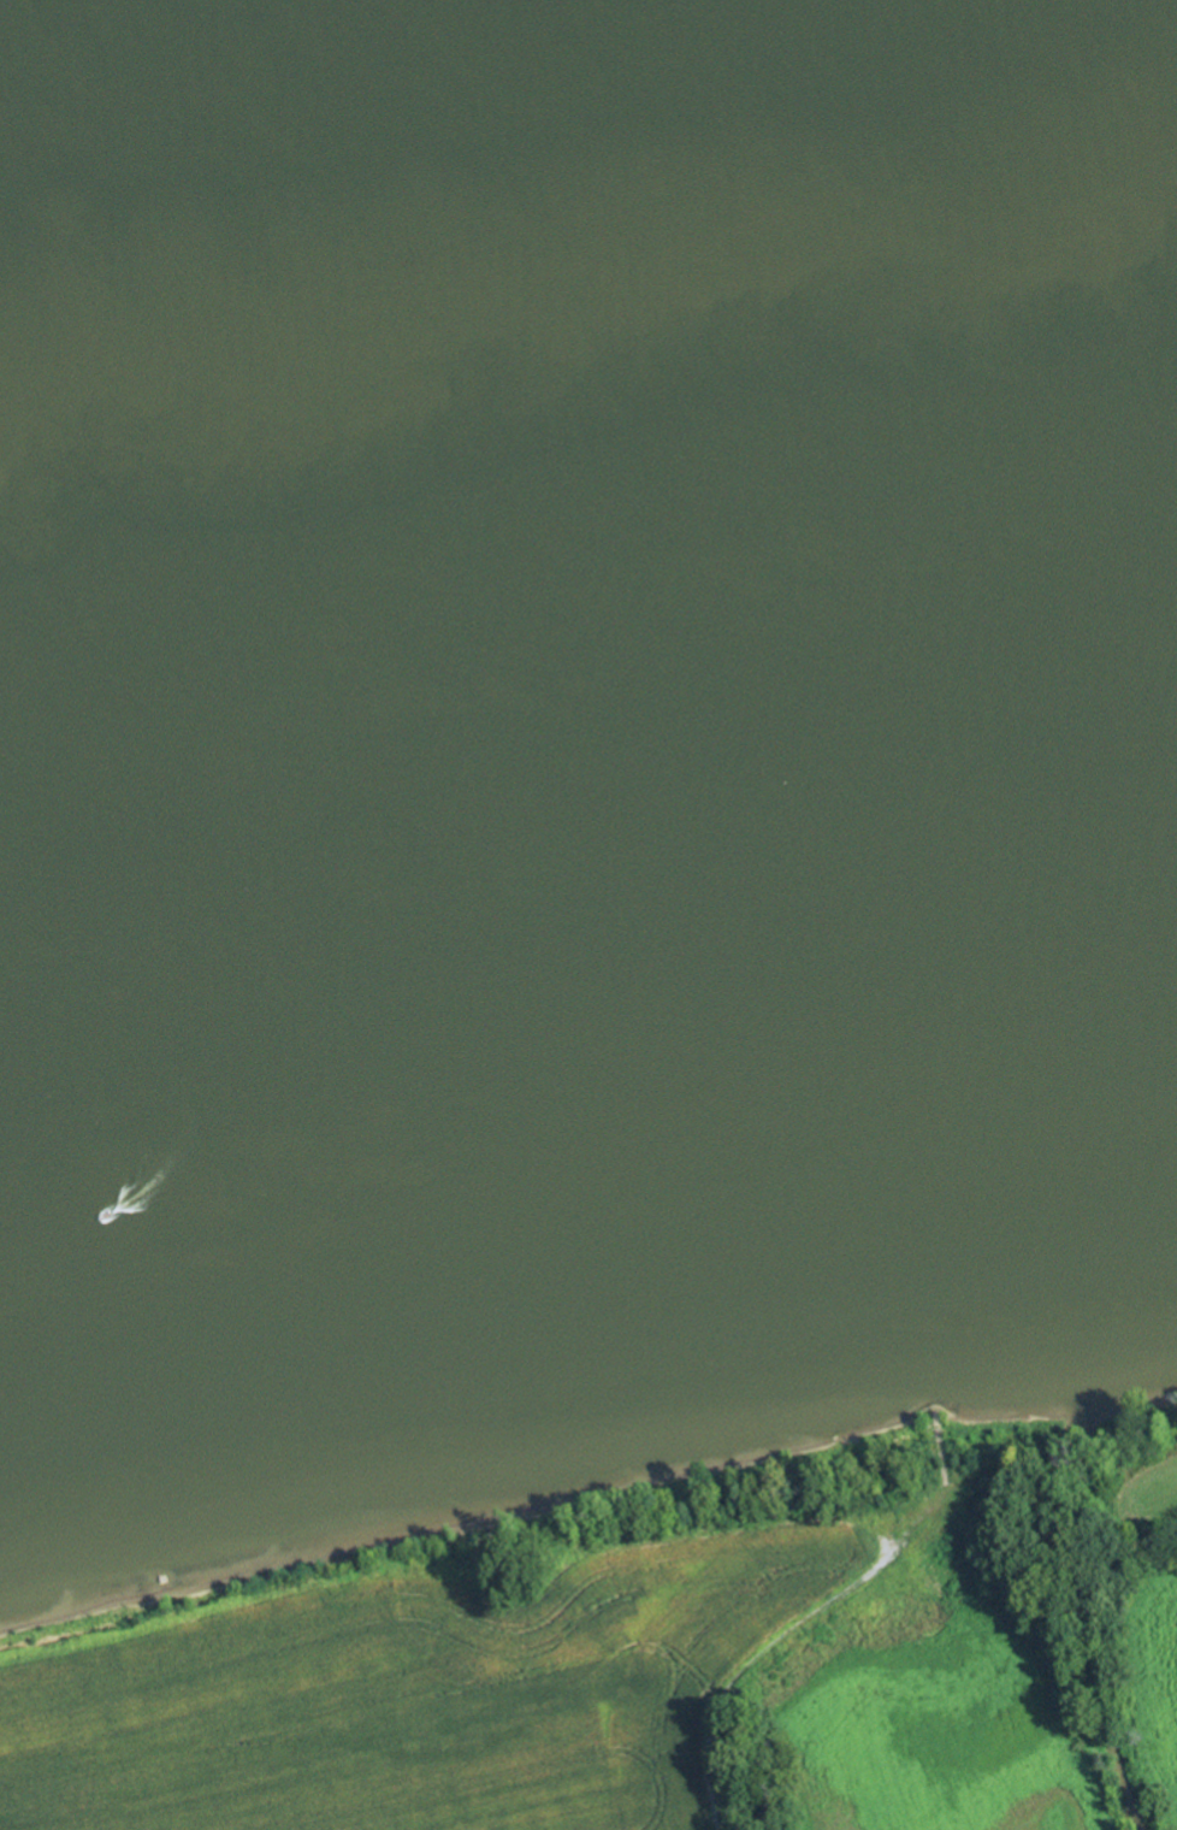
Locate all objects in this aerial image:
river: (587, 628)

